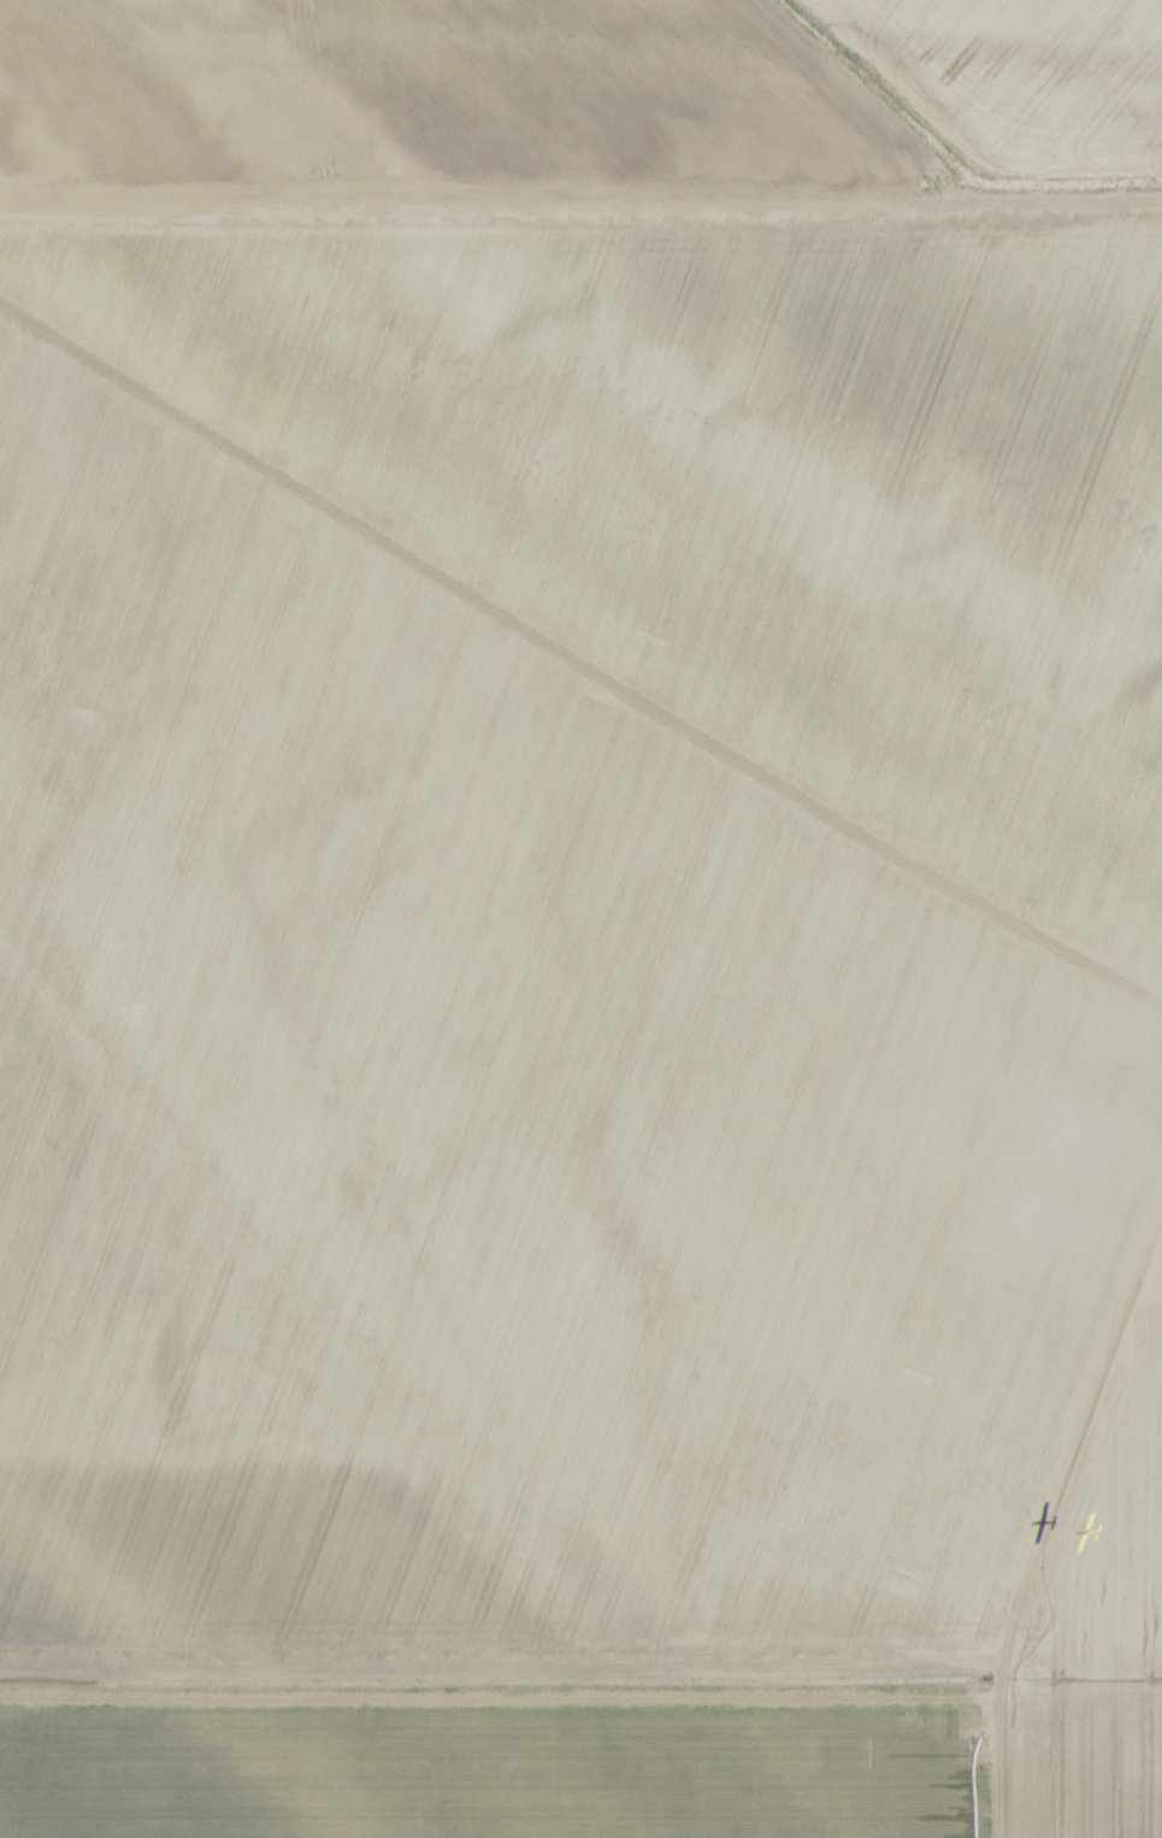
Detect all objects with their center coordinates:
road: (181, 1259)

